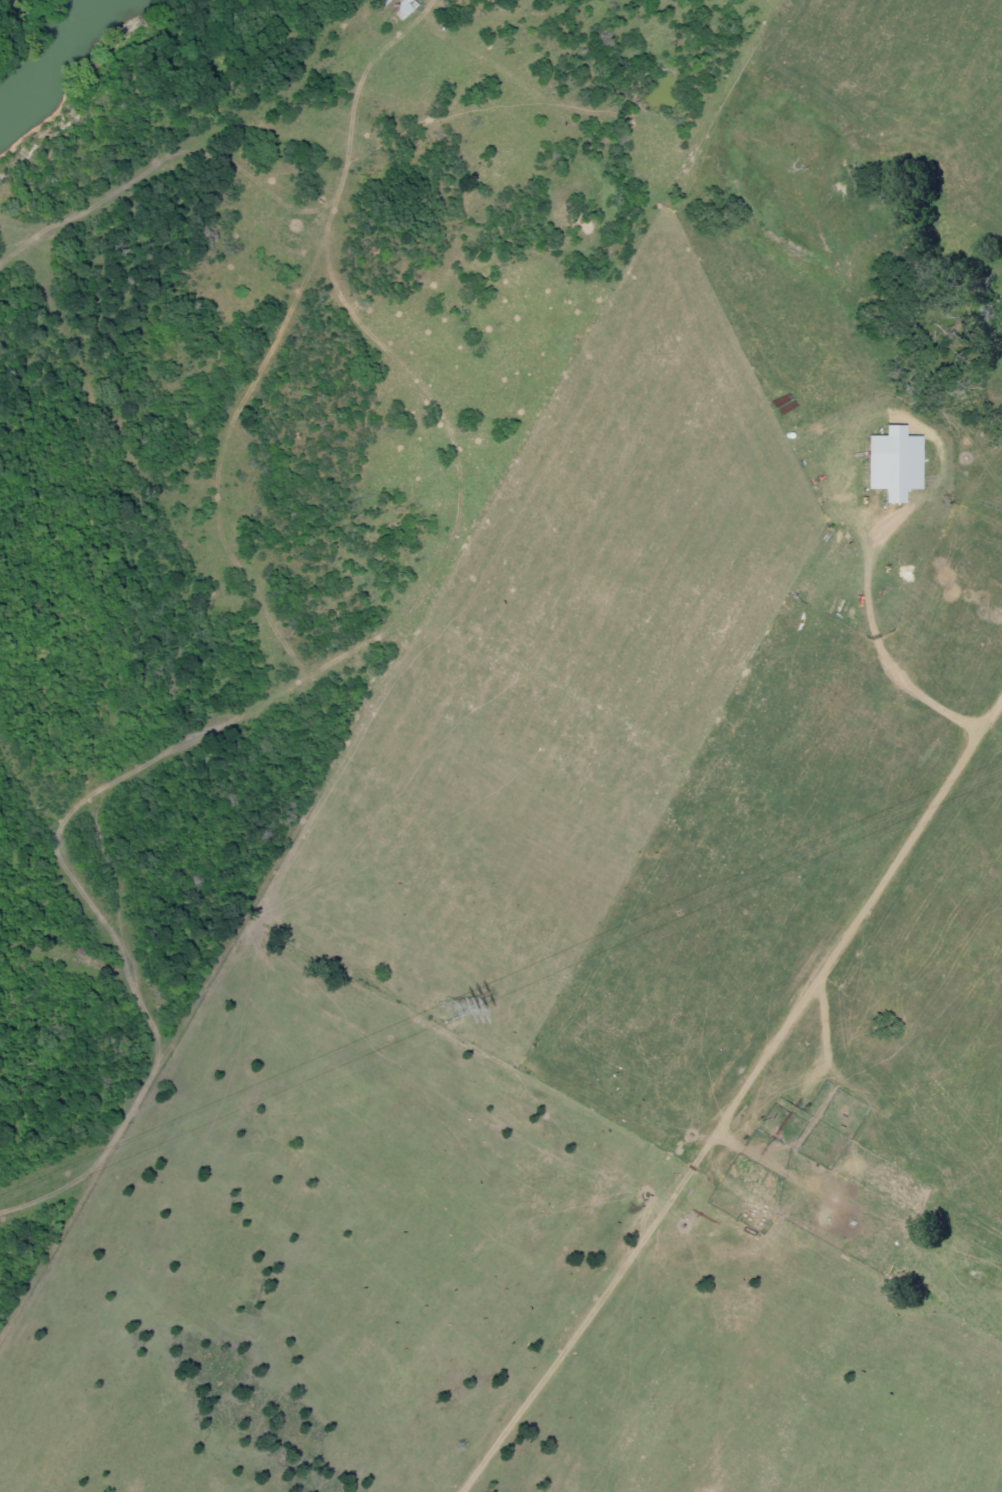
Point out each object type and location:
road: (206, 142)
building: (895, 463)
road: (873, 506)
road: (943, 780)
power tower: (443, 1013)
road: (762, 1169)

